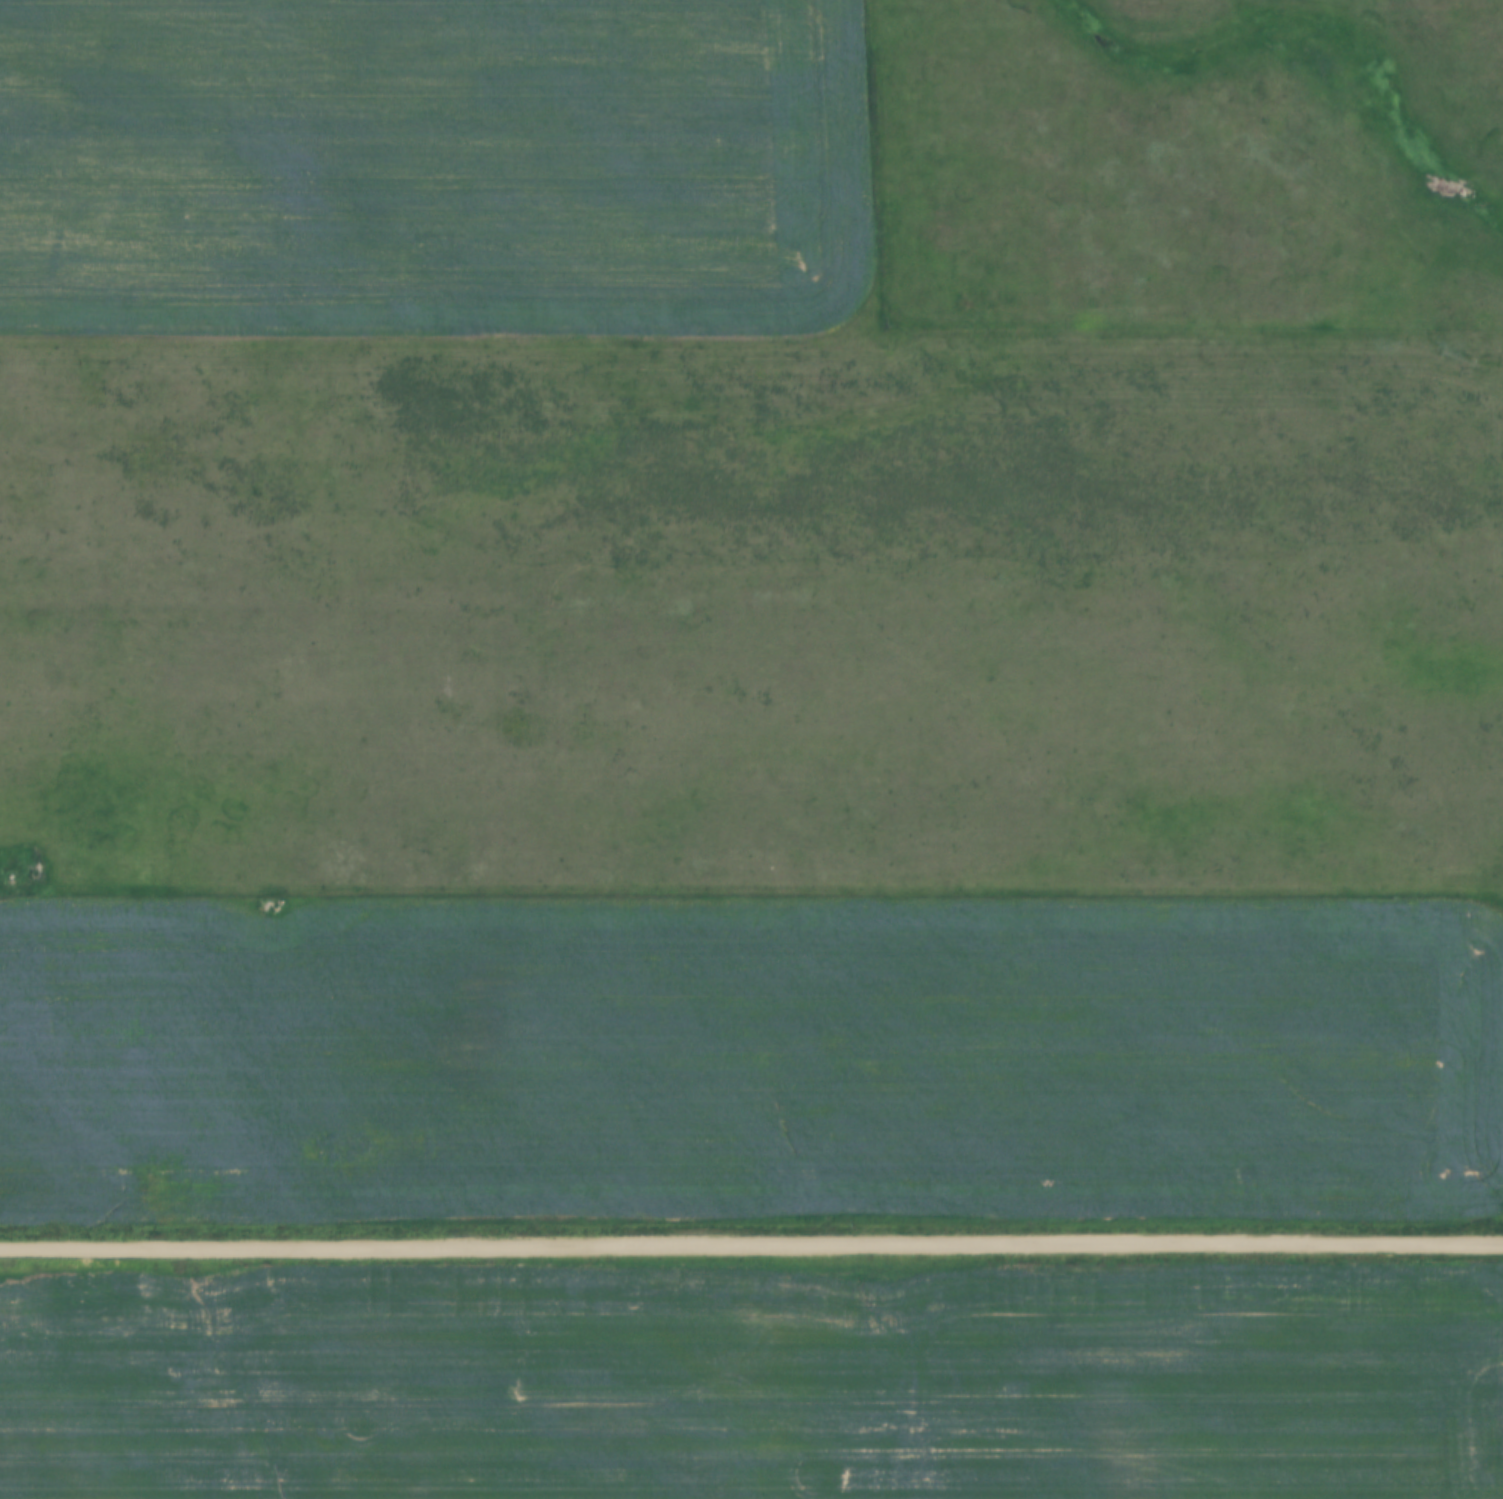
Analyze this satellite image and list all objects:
road: (751, 1251)

